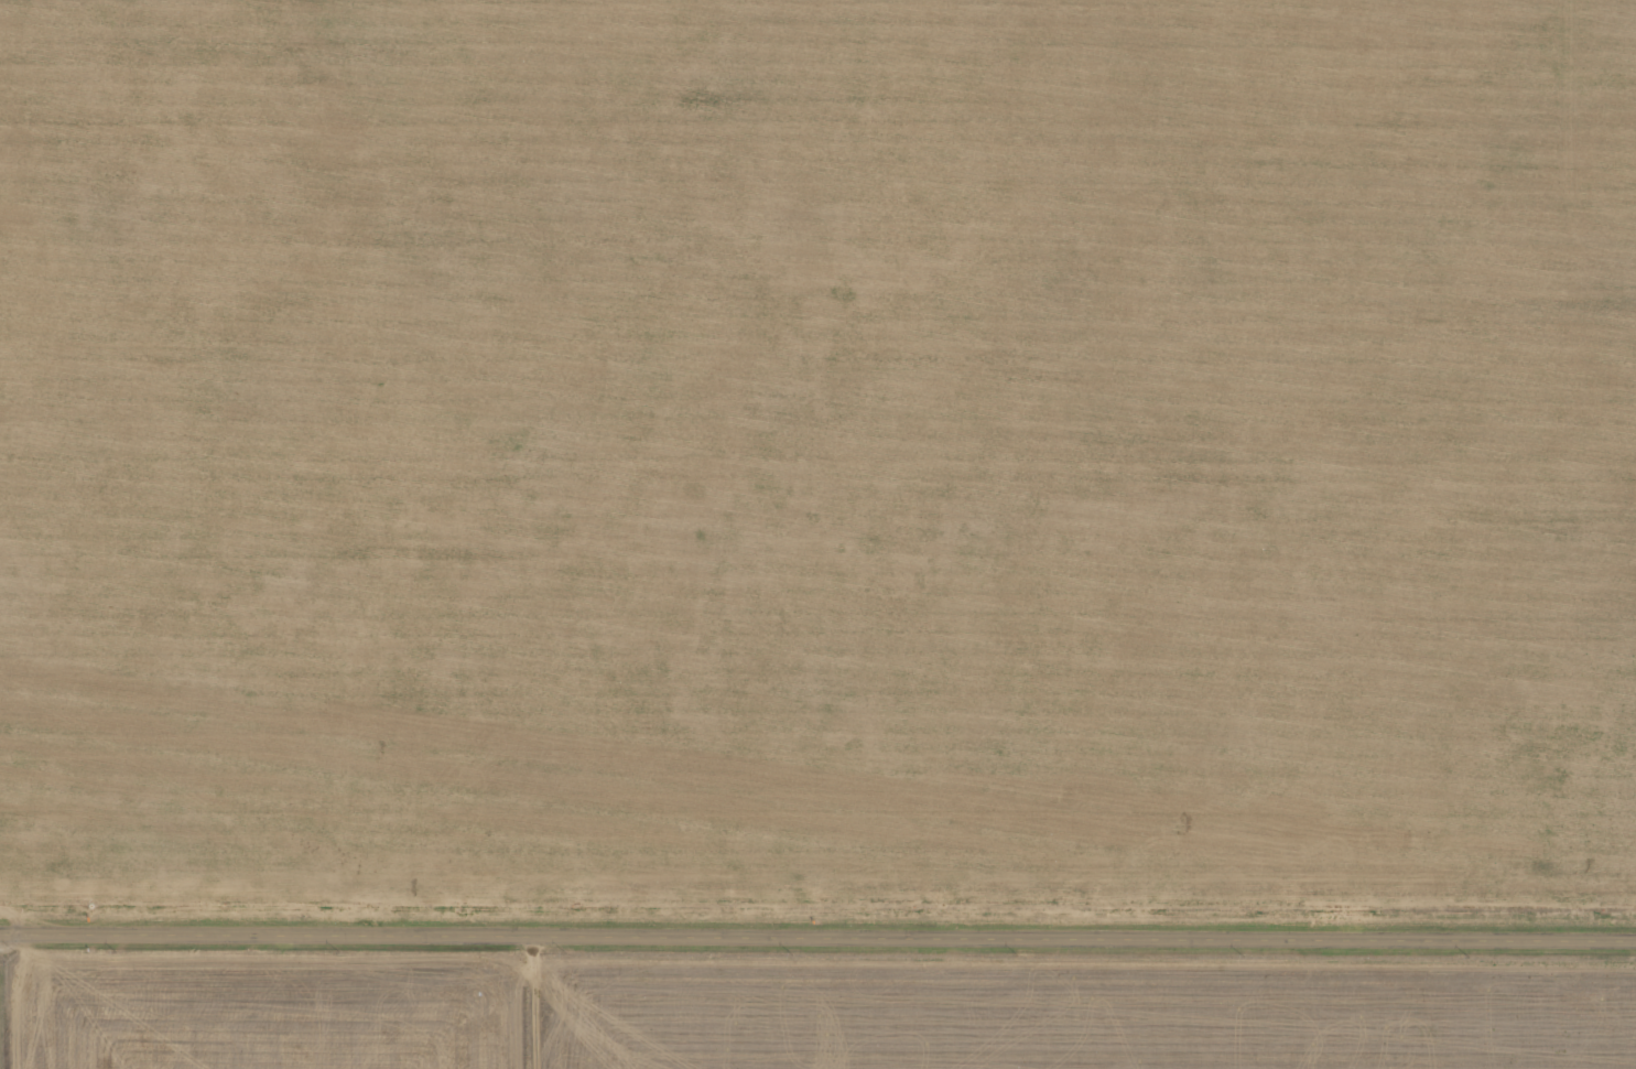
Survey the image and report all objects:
road: (817, 938)

